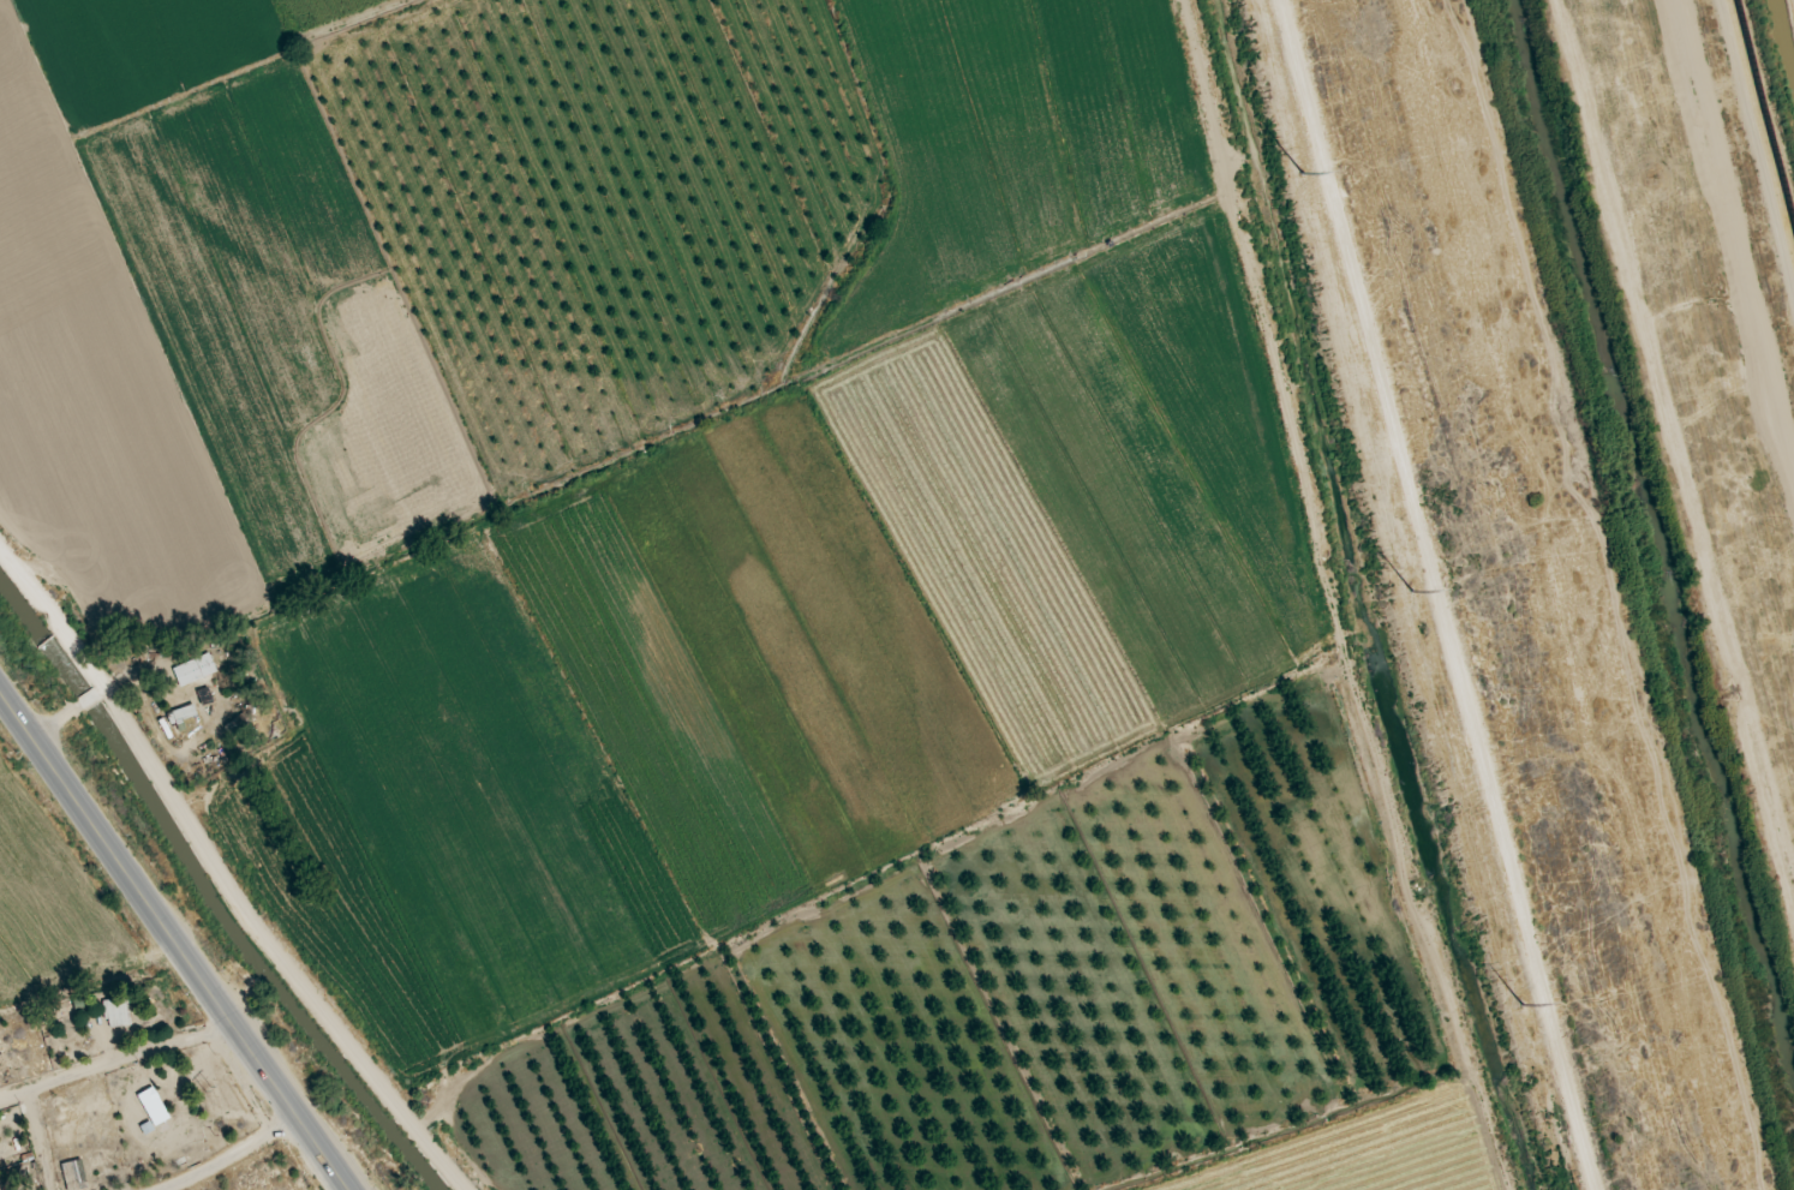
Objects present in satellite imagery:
road: (1751, 165)
power tower: (1296, 173)
river: (1648, 555)
power tower: (1405, 593)
power tower: (1513, 1007)

